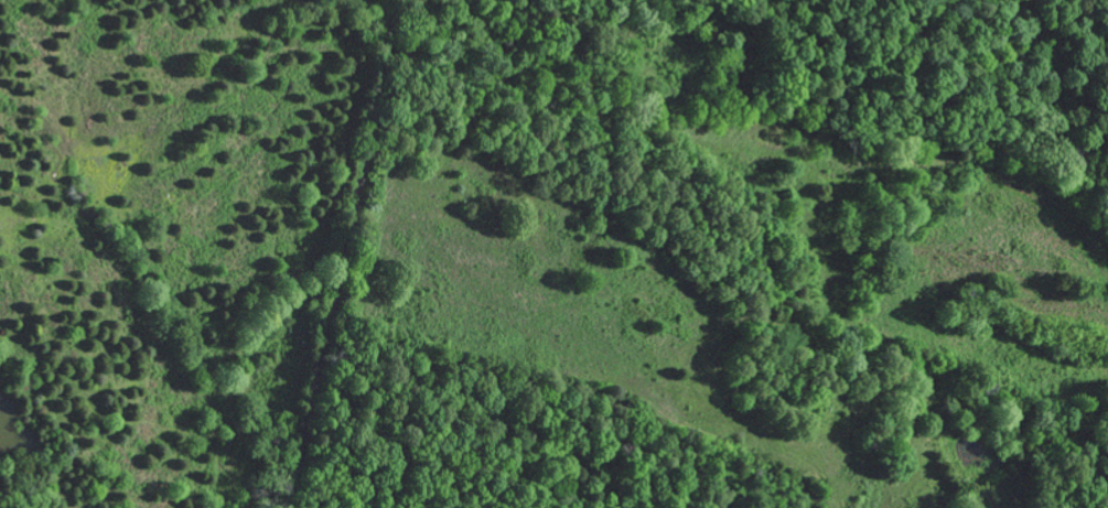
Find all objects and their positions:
road: (32, 218)
road: (345, 253)

